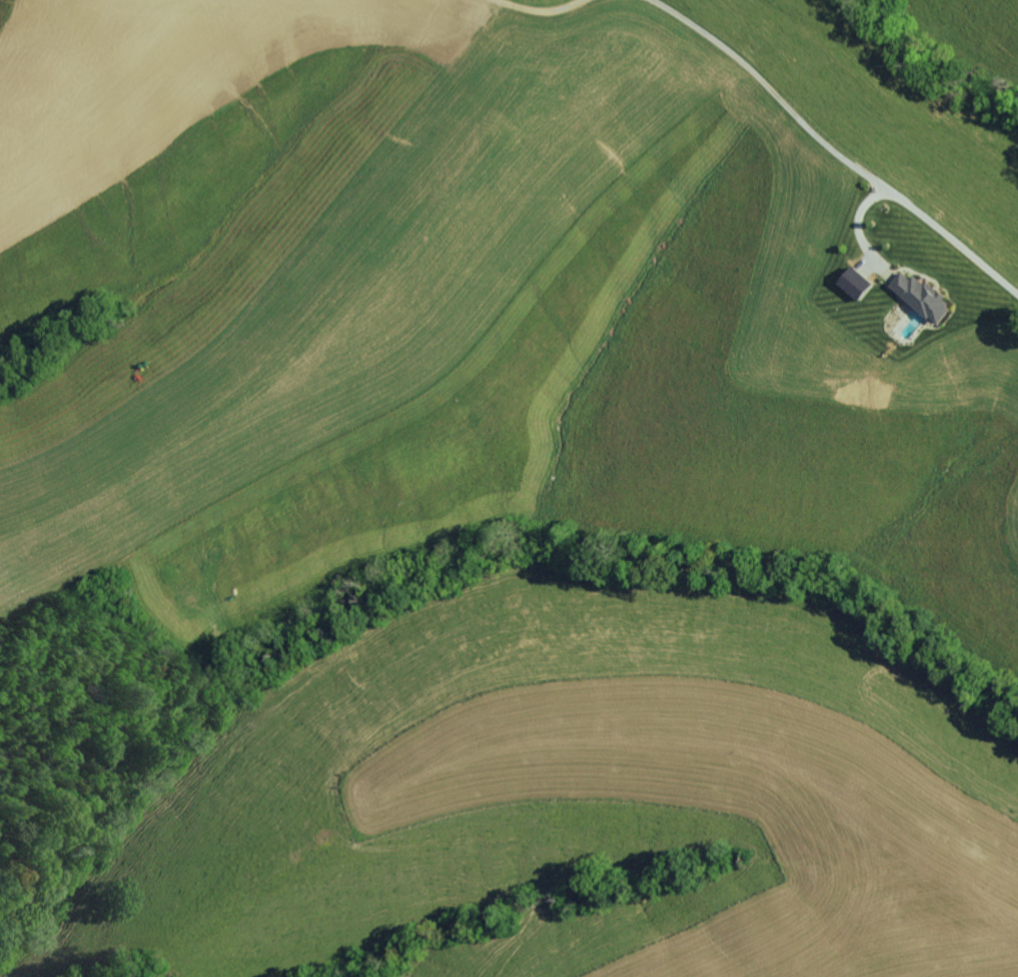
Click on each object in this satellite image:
building: (860, 282)
building: (928, 295)

